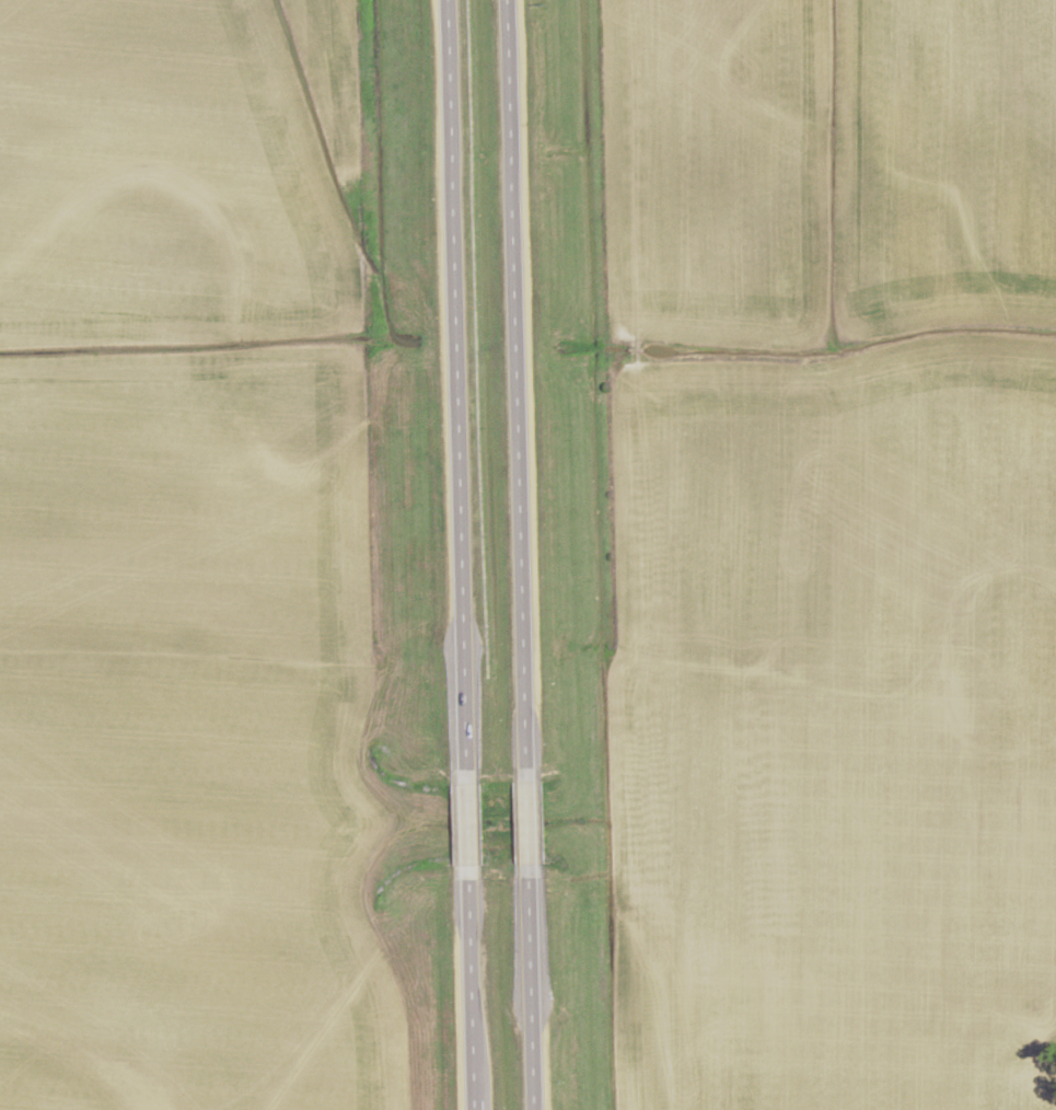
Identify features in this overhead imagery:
road: (451, 120)
road: (518, 384)
road: (463, 506)
road: (531, 824)
road: (472, 825)
road: (475, 992)
road: (535, 994)
road: (477, 1107)

